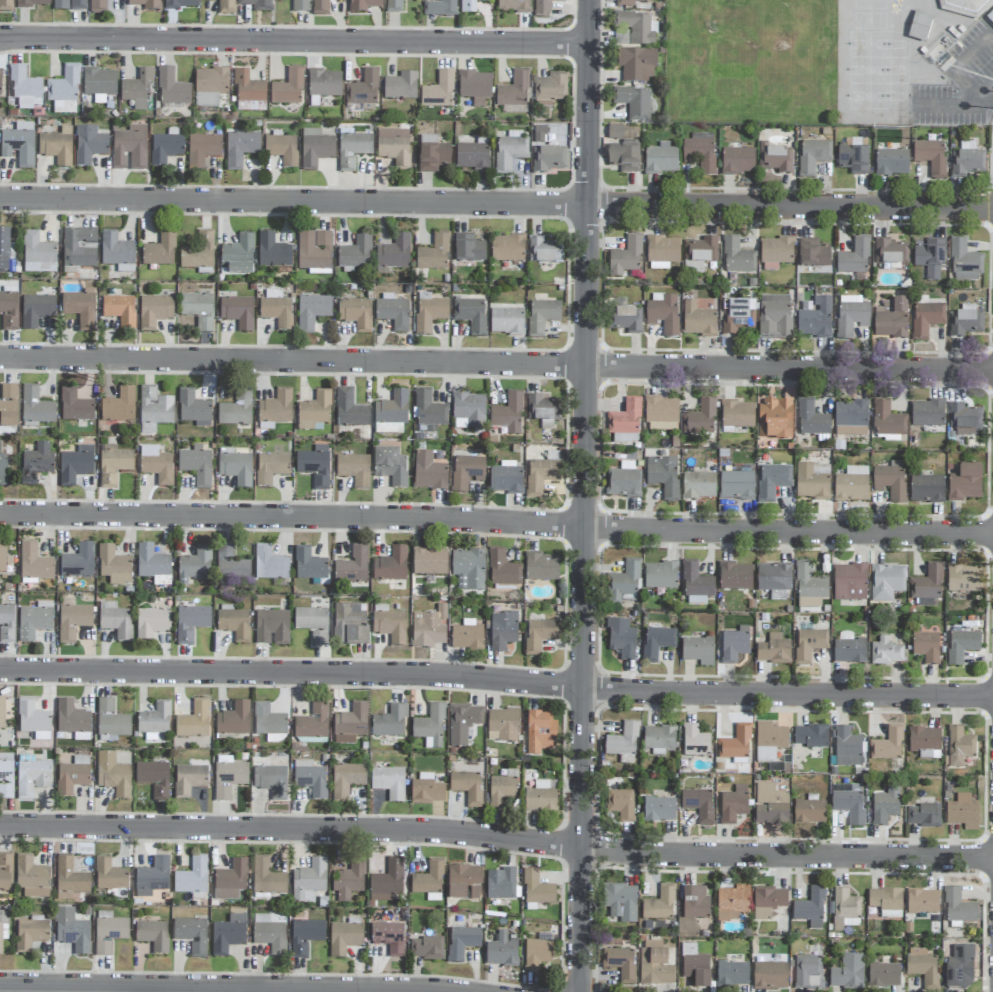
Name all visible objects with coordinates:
building: (893, 0)
building: (633, 2)
building: (32, 3)
building: (146, 4)
building: (181, 4)
building: (257, 4)
building: (5, 5)
building: (69, 5)
building: (298, 5)
building: (363, 5)
building: (98, 6)
building: (394, 6)
building: (470, 6)
building: (514, 6)
building: (544, 6)
building: (969, 6)
building: (225, 7)
building: (320, 7)
building: (439, 8)
building: (992, 19)
building: (637, 27)
building: (621, 38)
road: (294, 43)
building: (638, 65)
road: (959, 73)
building: (0, 81)
building: (99, 82)
building: (324, 83)
building: (400, 86)
building: (475, 87)
building: (210, 88)
building: (288, 88)
building: (25, 89)
building: (137, 89)
building: (172, 89)
building: (550, 89)
building: (64, 91)
building: (513, 91)
building: (363, 92)
building: (438, 92)
building: (248, 93)
building: (635, 103)
building: (615, 132)
building: (19, 144)
building: (89, 145)
building: (57, 146)
building: (166, 147)
building: (394, 147)
building: (130, 148)
building: (240, 148)
building: (315, 148)
building: (352, 149)
building: (202, 150)
building: (282, 150)
building: (509, 151)
building: (700, 152)
building: (432, 154)
building: (931, 155)
building: (472, 156)
building: (813, 156)
building: (624, 157)
building: (775, 158)
building: (548, 159)
building: (661, 159)
building: (967, 160)
building: (738, 161)
building: (891, 163)
road: (496, 205)
building: (79, 248)
building: (507, 248)
building: (4, 249)
building: (469, 249)
building: (160, 251)
building: (544, 251)
building: (116, 252)
building: (273, 252)
building: (314, 252)
building: (662, 252)
building: (890, 252)
building: (198, 253)
building: (394, 253)
building: (434, 253)
building: (776, 253)
building: (38, 254)
building: (699, 254)
building: (813, 254)
building: (238, 255)
building: (355, 255)
building: (737, 256)
building: (626, 257)
building: (854, 257)
building: (930, 257)
building: (964, 262)
building: (80, 308)
building: (276, 309)
building: (36, 310)
building: (198, 310)
building: (9, 311)
building: (120, 311)
building: (393, 311)
building: (154, 312)
building: (238, 312)
building: (312, 312)
building: (429, 312)
building: (356, 313)
building: (663, 313)
building: (471, 315)
building: (851, 315)
building: (542, 317)
building: (775, 317)
building: (739, 318)
building: (815, 319)
building: (891, 319)
building: (926, 319)
building: (626, 320)
building: (698, 320)
building: (506, 321)
building: (966, 321)
road: (496, 364)
building: (8, 406)
building: (75, 406)
building: (119, 406)
building: (36, 407)
building: (276, 408)
building: (193, 409)
building: (154, 410)
building: (350, 410)
building: (543, 410)
building: (236, 411)
building: (469, 411)
building: (314, 412)
building: (429, 412)
building: (927, 413)
building: (391, 414)
building: (508, 414)
building: (661, 414)
building: (737, 414)
building: (625, 418)
building: (700, 418)
building: (851, 418)
building: (964, 418)
building: (774, 419)
building: (811, 419)
building: (887, 420)
building: (625, 438)
building: (36, 464)
building: (113, 464)
building: (156, 465)
building: (196, 465)
building: (315, 466)
building: (391, 466)
building: (74, 467)
building: (235, 467)
building: (271, 468)
building: (354, 469)
building: (3, 471)
building: (428, 472)
building: (467, 472)
building: (540, 476)
building: (663, 476)
building: (506, 478)
building: (773, 481)
building: (812, 481)
building: (890, 482)
building: (623, 483)
building: (965, 483)
building: (851, 485)
building: (698, 486)
building: (736, 486)
building: (926, 489)
road: (585, 496)
road: (496, 523)
building: (4, 559)
building: (78, 561)
building: (429, 562)
building: (34, 564)
building: (270, 564)
building: (153, 565)
building: (230, 565)
building: (309, 565)
building: (391, 565)
building: (114, 566)
building: (195, 566)
building: (352, 567)
building: (542, 567)
building: (468, 569)
building: (502, 570)
building: (660, 576)
building: (735, 576)
building: (773, 577)
building: (963, 579)
building: (886, 582)
building: (624, 583)
building: (849, 583)
building: (696, 585)
building: (809, 586)
building: (927, 586)
building: (115, 620)
building: (34, 621)
building: (73, 621)
building: (190, 621)
building: (7, 623)
building: (233, 623)
building: (151, 624)
building: (312, 624)
building: (350, 624)
building: (390, 626)
building: (272, 627)
building: (429, 628)
building: (503, 630)
building: (467, 635)
building: (539, 635)
building: (621, 638)
building: (657, 642)
building: (734, 645)
building: (809, 645)
building: (962, 646)
building: (926, 647)
building: (849, 649)
building: (774, 650)
building: (698, 651)
building: (886, 652)
road: (496, 680)
building: (2, 712)
building: (233, 719)
building: (33, 720)
building: (72, 721)
building: (112, 721)
building: (154, 721)
building: (193, 721)
building: (268, 721)
building: (390, 721)
building: (464, 723)
building: (313, 724)
building: (350, 724)
building: (503, 725)
building: (430, 727)
building: (540, 733)
building: (810, 736)
building: (659, 740)
building: (769, 741)
building: (695, 742)
building: (924, 742)
building: (623, 744)
building: (735, 744)
building: (887, 745)
building: (960, 746)
building: (847, 748)
building: (113, 775)
building: (6, 776)
building: (31, 776)
building: (72, 776)
building: (228, 777)
building: (154, 778)
building: (310, 779)
building: (189, 780)
building: (346, 780)
building: (271, 781)
building: (389, 782)
building: (467, 787)
building: (426, 790)
building: (501, 791)
building: (541, 797)
building: (848, 803)
building: (621, 804)
building: (699, 804)
building: (733, 804)
building: (770, 805)
building: (885, 806)
building: (659, 809)
building: (809, 812)
building: (963, 814)
building: (923, 816)
road: (496, 838)
building: (5, 872)
building: (109, 875)
building: (152, 877)
building: (192, 877)
building: (266, 877)
building: (31, 878)
building: (69, 879)
building: (388, 879)
building: (231, 880)
building: (309, 881)
building: (348, 881)
building: (429, 881)
building: (464, 882)
building: (503, 884)
building: (537, 889)
building: (768, 901)
building: (922, 901)
building: (621, 902)
building: (732, 902)
building: (886, 902)
building: (695, 903)
building: (659, 904)
building: (958, 907)
building: (810, 908)
building: (845, 909)
building: (3, 927)
building: (72, 931)
building: (108, 932)
building: (30, 933)
building: (228, 934)
building: (269, 934)
building: (153, 935)
building: (191, 935)
building: (305, 936)
building: (344, 938)
building: (389, 938)
building: (462, 942)
building: (426, 948)
building: (501, 951)
building: (536, 954)
building: (620, 963)
building: (655, 964)
building: (695, 966)
building: (922, 967)
building: (960, 967)
building: (808, 972)
building: (848, 972)
building: (732, 975)
building: (883, 975)
building: (770, 976)
road: (220, 988)

